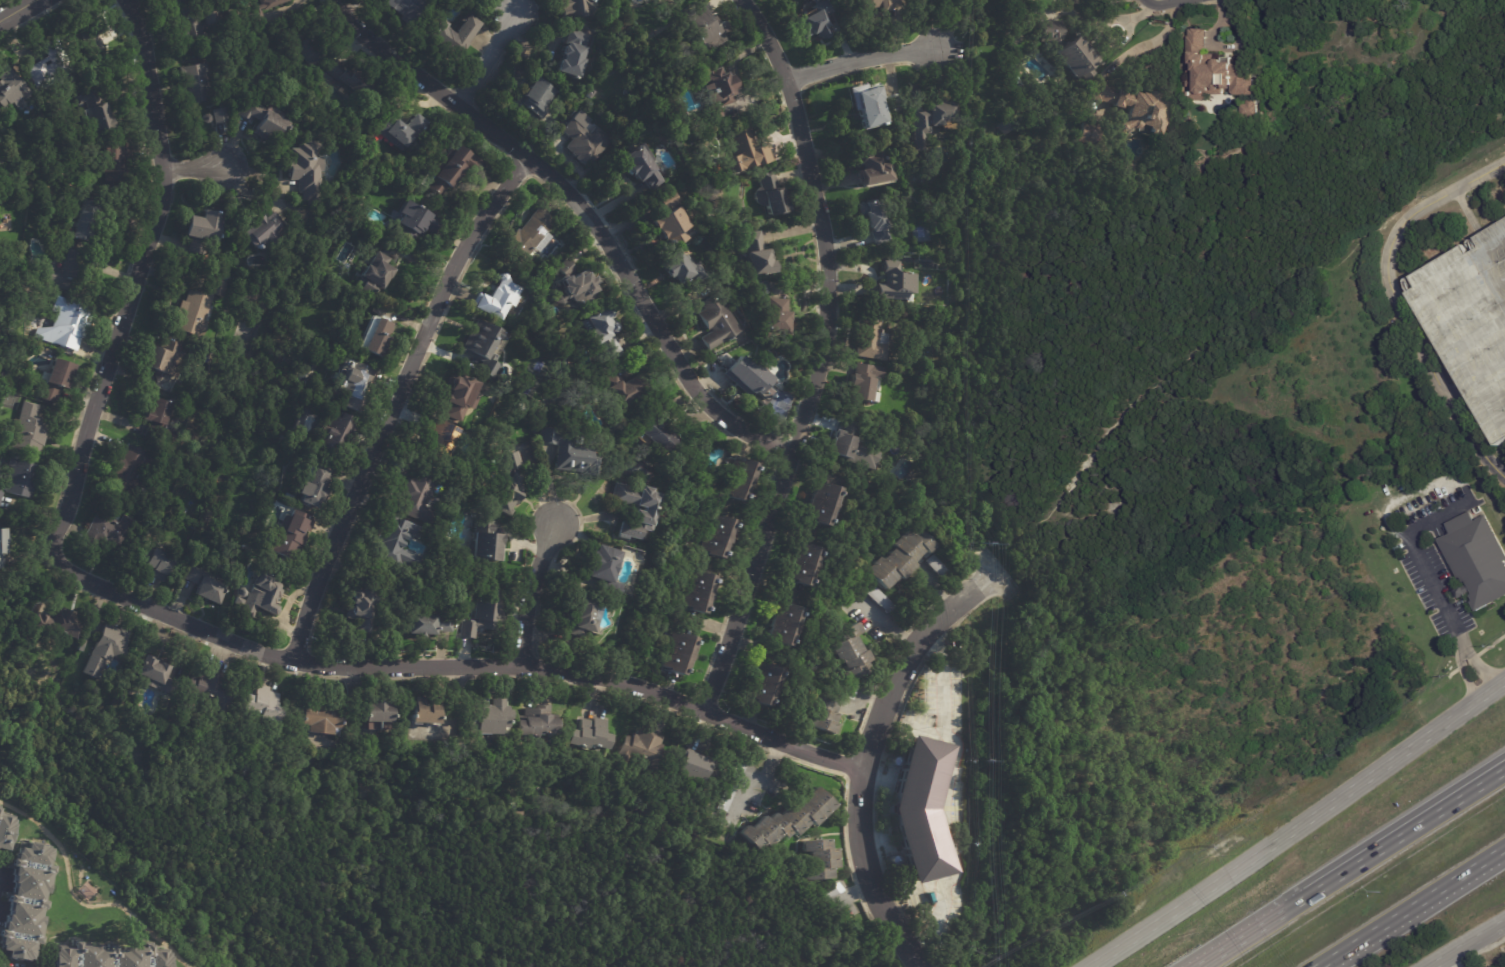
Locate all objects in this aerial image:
building: (673, 0)
building: (876, 4)
building: (578, 8)
building: (405, 9)
road: (18, 10)
building: (1052, 10)
road: (1139, 11)
building: (480, 14)
building: (253, 15)
building: (814, 20)
building: (192, 24)
road: (1166, 26)
building: (706, 31)
building: (453, 35)
road: (1105, 38)
building: (304, 45)
building: (1069, 50)
building: (572, 53)
road: (488, 58)
road: (862, 59)
road: (1136, 63)
building: (49, 67)
building: (1216, 71)
building: (353, 77)
building: (325, 80)
building: (200, 83)
building: (11, 88)
building: (709, 92)
building: (590, 94)
building: (536, 96)
building: (868, 106)
building: (1134, 109)
building: (1252, 110)
building: (95, 113)
building: (218, 115)
building: (934, 115)
building: (205, 118)
building: (262, 121)
building: (1006, 125)
building: (406, 133)
building: (1089, 134)
building: (585, 142)
building: (743, 151)
building: (114, 158)
building: (871, 165)
building: (641, 166)
building: (1130, 166)
road: (195, 167)
building: (305, 170)
building: (454, 170)
building: (936, 170)
building: (772, 196)
building: (668, 199)
road: (585, 210)
road: (1468, 210)
building: (875, 220)
building: (83, 221)
building: (414, 221)
building: (199, 227)
building: (669, 228)
building: (263, 232)
building: (528, 237)
building: (756, 255)
building: (681, 270)
building: (68, 271)
building: (373, 273)
building: (897, 285)
building: (575, 289)
building: (762, 290)
building: (496, 298)
road: (1397, 302)
building: (194, 311)
parking lot: (1469, 317)
building: (776, 318)
building: (1470, 319)
building: (71, 323)
building: (716, 323)
building: (600, 333)
building: (872, 337)
building: (372, 338)
building: (481, 348)
road: (822, 354)
building: (161, 358)
building: (742, 377)
building: (55, 380)
building: (864, 384)
building: (351, 385)
building: (623, 390)
road: (1455, 393)
building: (460, 397)
road: (394, 400)
building: (159, 421)
building: (298, 421)
building: (30, 429)
building: (335, 431)
building: (661, 435)
building: (441, 437)
building: (569, 451)
building: (851, 451)
building: (132, 469)
building: (23, 479)
building: (739, 481)
building: (508, 486)
building: (310, 492)
building: (417, 498)
building: (286, 502)
building: (824, 506)
building: (650, 511)
building: (108, 532)
building: (289, 537)
building: (720, 537)
building: (394, 544)
building: (485, 548)
building: (3, 552)
road: (1419, 554)
building: (1474, 559)
building: (901, 560)
parking lot: (1436, 561)
building: (934, 562)
building: (153, 563)
building: (804, 566)
building: (603, 572)
building: (202, 587)
building: (700, 591)
road: (529, 592)
building: (256, 598)
building: (881, 601)
building: (360, 610)
building: (483, 612)
road: (174, 616)
building: (581, 617)
building: (58, 622)
building: (424, 625)
building: (785, 625)
building: (104, 648)
building: (849, 652)
building: (679, 654)
road: (1477, 662)
road: (1464, 671)
building: (151, 674)
building: (763, 686)
building: (210, 689)
building: (262, 702)
building: (377, 708)
building: (421, 710)
building: (321, 715)
building: (487, 715)
building: (819, 717)
building: (536, 722)
building: (591, 734)
building: (641, 747)
road: (868, 752)
building: (694, 767)
building: (740, 767)
building: (357, 777)
road: (758, 779)
building: (728, 797)
building: (529, 803)
building: (918, 808)
building: (0, 809)
building: (519, 813)
building: (787, 820)
road: (1300, 827)
building: (5, 830)
building: (821, 859)
road: (1352, 868)
building: (832, 894)
building: (25, 900)
road: (1416, 911)
road: (1468, 944)
road: (1481, 952)
building: (107, 956)
road: (1462, 958)

